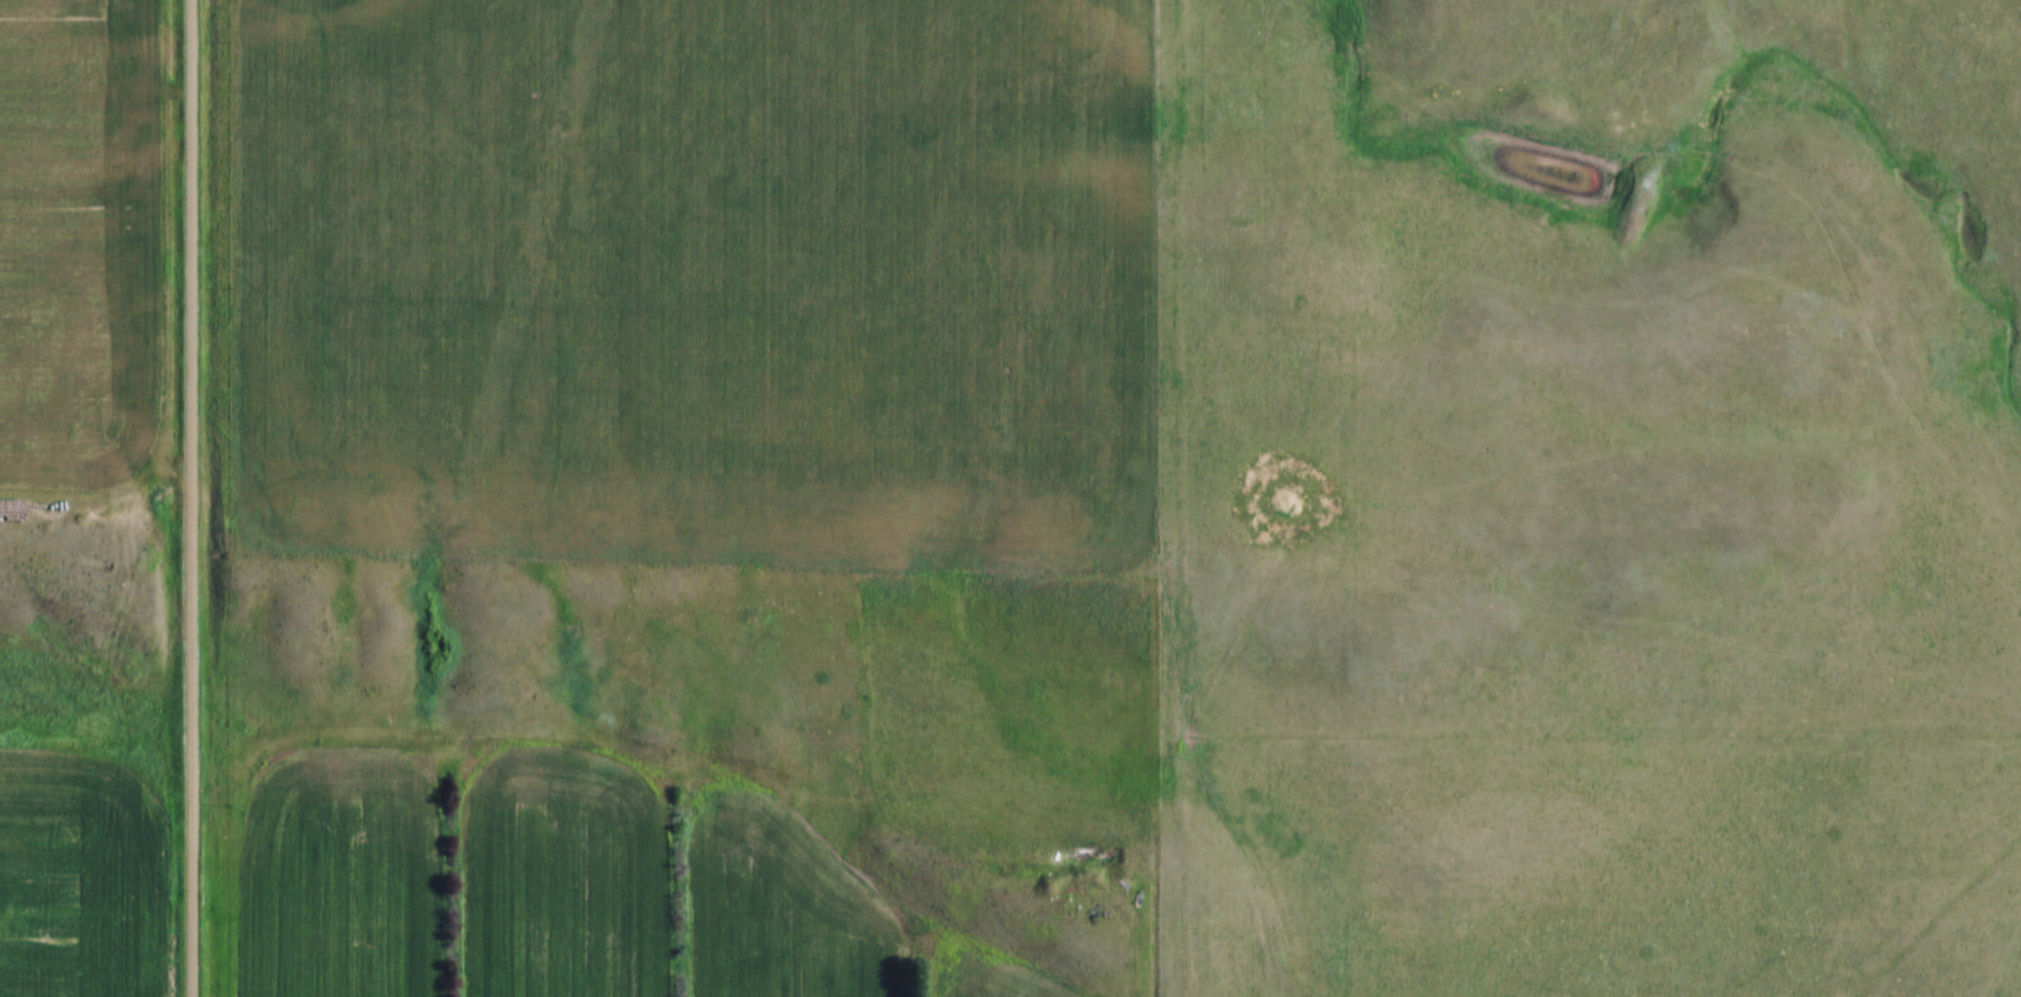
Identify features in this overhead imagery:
road: (188, 498)
road: (1159, 498)

